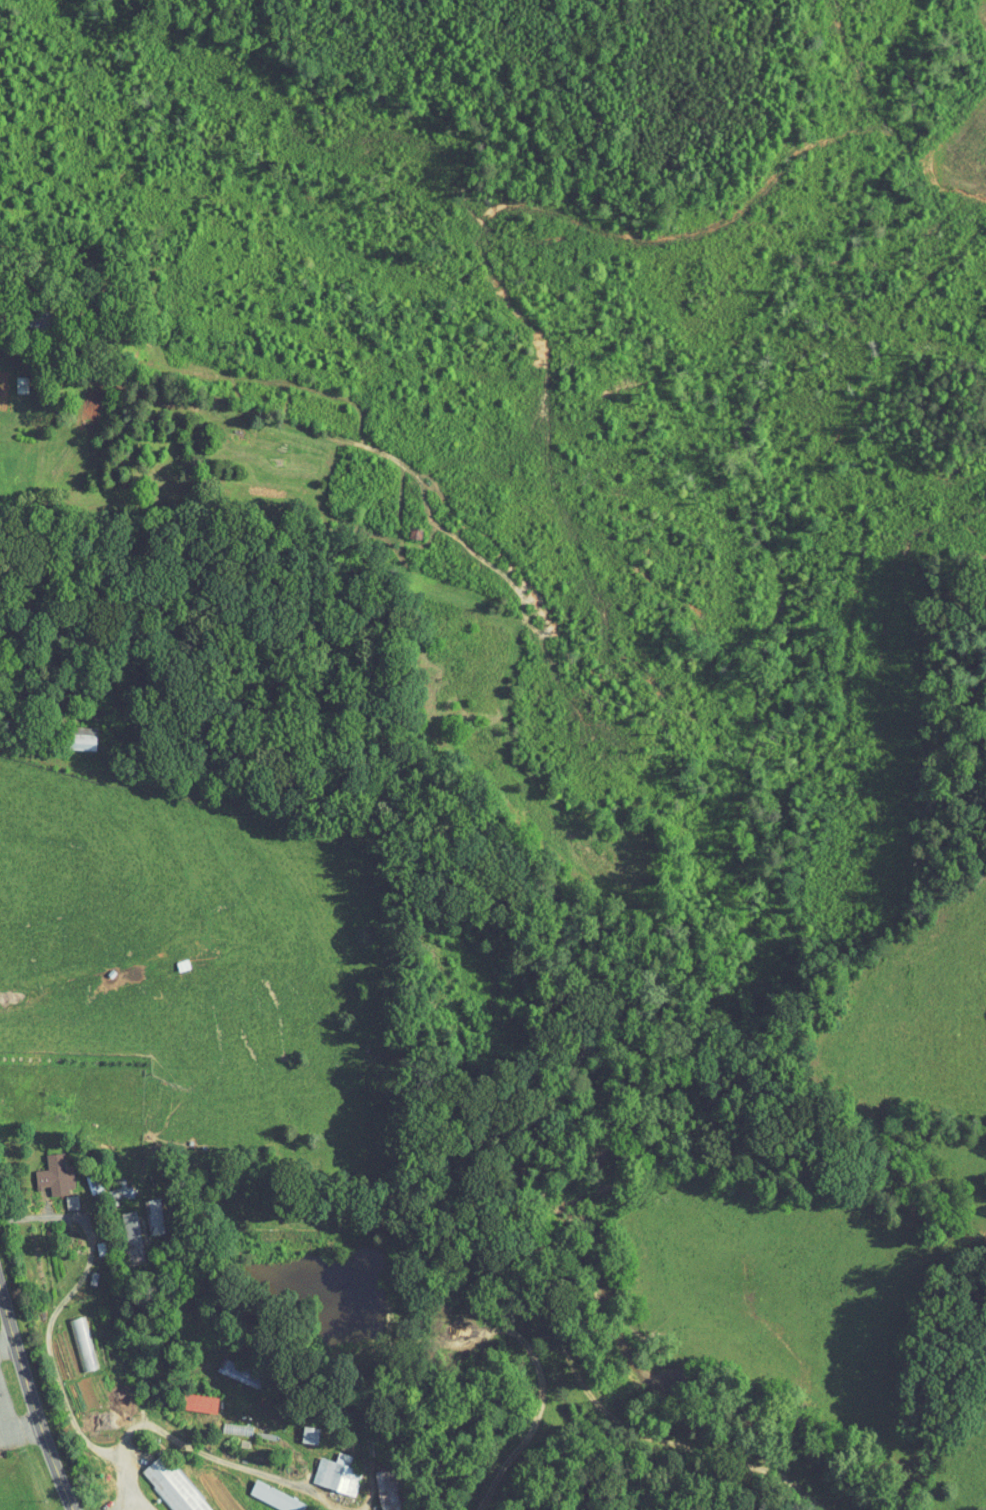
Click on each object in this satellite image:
building: (75, 733)
building: (44, 1168)
building: (112, 1185)
building: (142, 1210)
building: (120, 1229)
building: (230, 1367)
building: (190, 1397)
road: (28, 1414)
building: (225, 1423)
building: (299, 1428)
building: (326, 1467)
building: (165, 1481)
building: (379, 1486)
building: (265, 1492)

